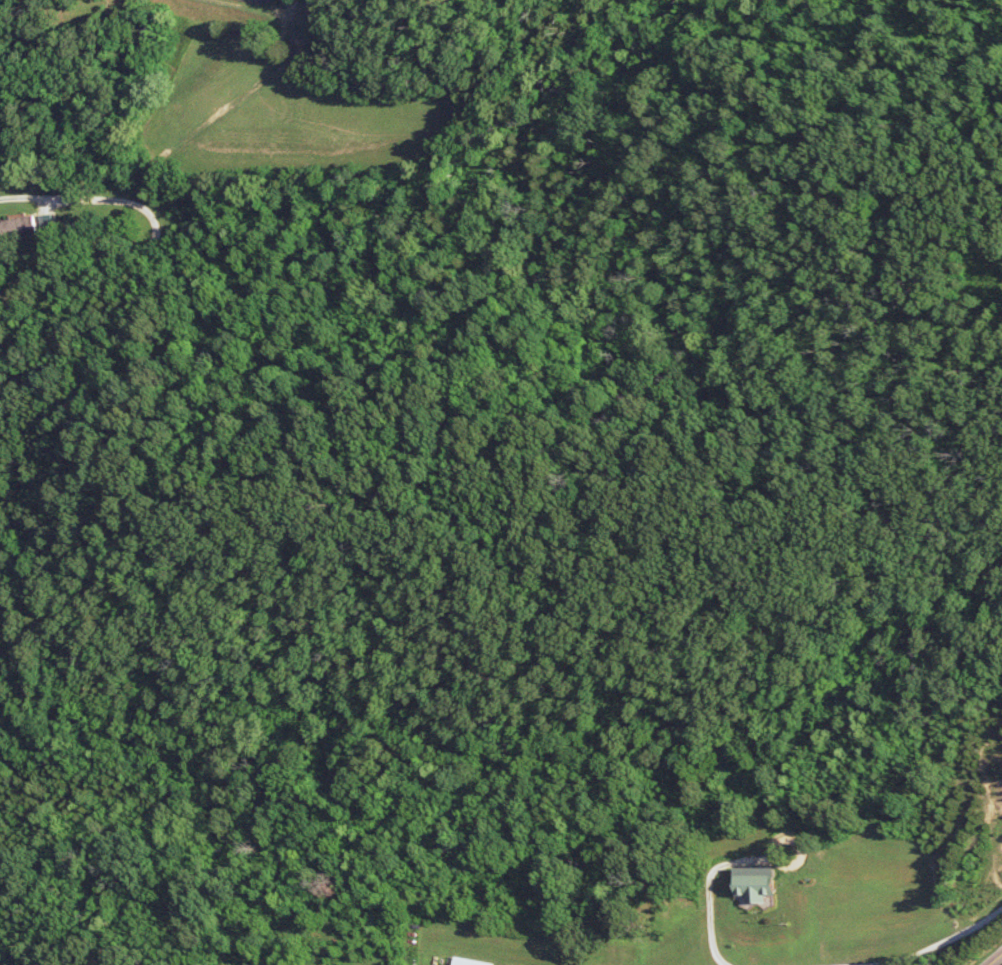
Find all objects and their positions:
road: (49, 20)
building: (759, 884)
road: (994, 959)
building: (470, 962)

